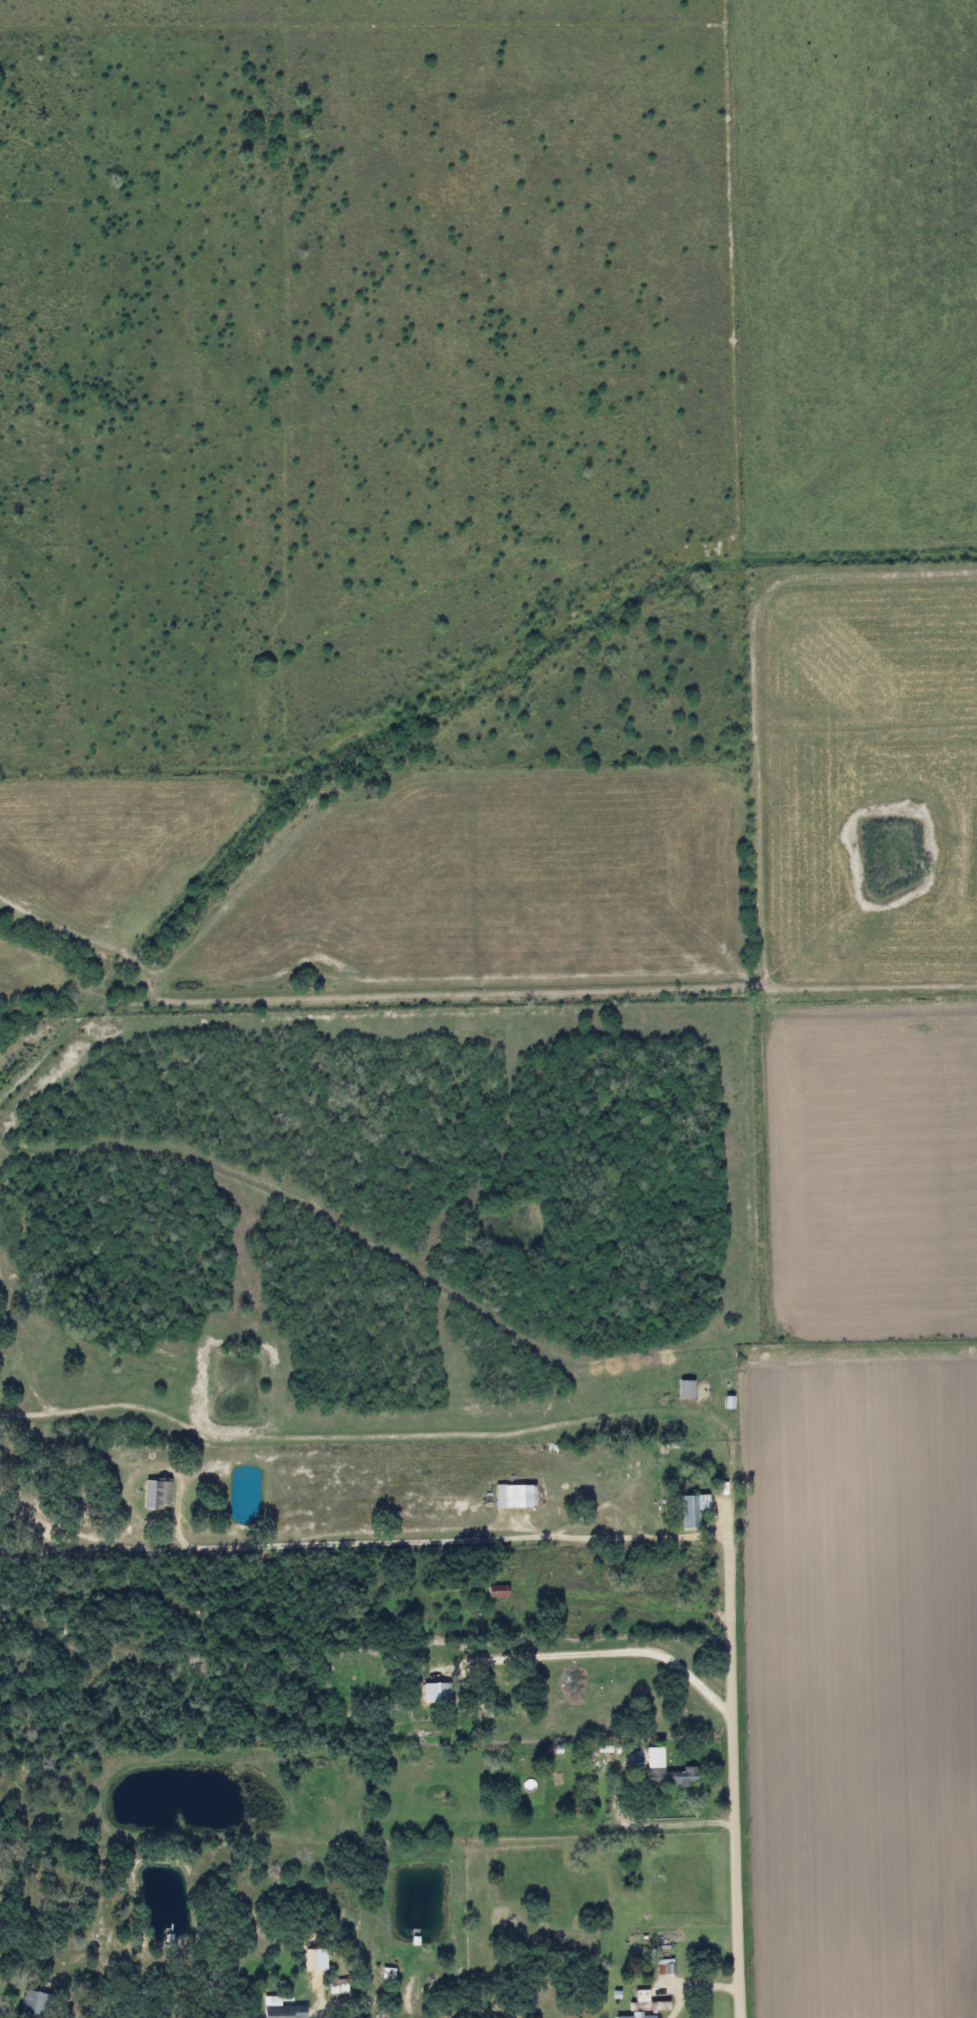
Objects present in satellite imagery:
road: (484, 1388)
building: (158, 1495)
building: (512, 1496)
building: (690, 1510)
road: (598, 1536)
building: (492, 1592)
building: (511, 1606)
road: (597, 1656)
building: (434, 1694)
building: (663, 1771)
road: (655, 1827)
building: (660, 1968)
building: (336, 1987)
road: (695, 1987)
building: (30, 2005)
building: (644, 2006)
building: (282, 2012)
road: (319, 2013)

